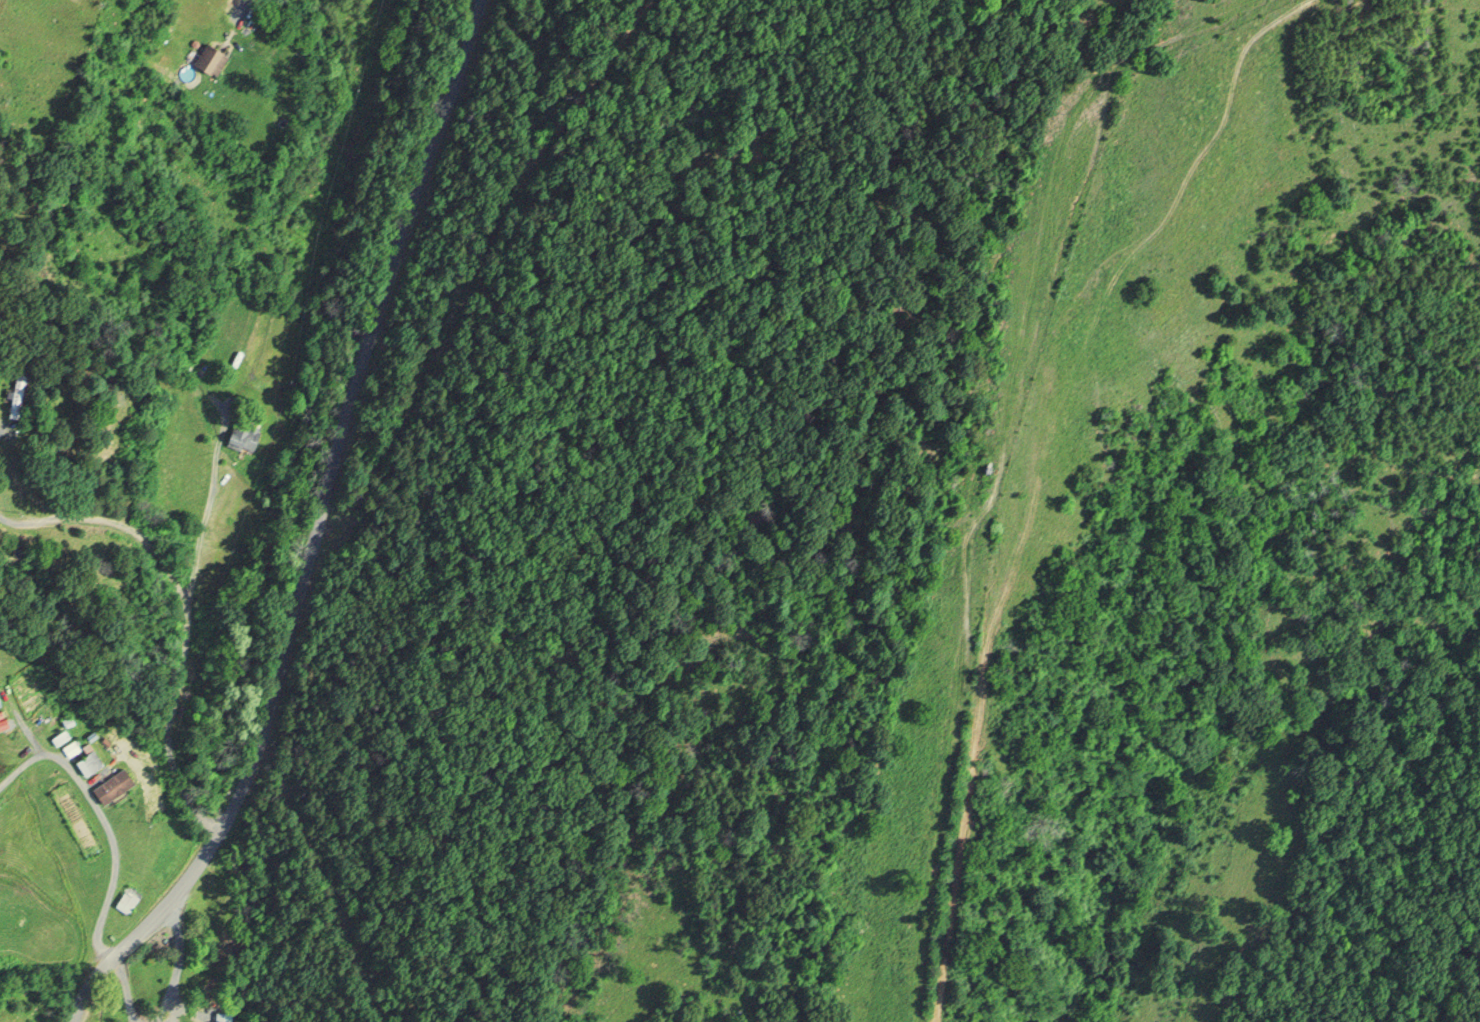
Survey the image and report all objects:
building: (217, 60)
building: (244, 435)
road: (311, 531)
road: (155, 702)
building: (90, 762)
building: (114, 785)
building: (128, 899)

